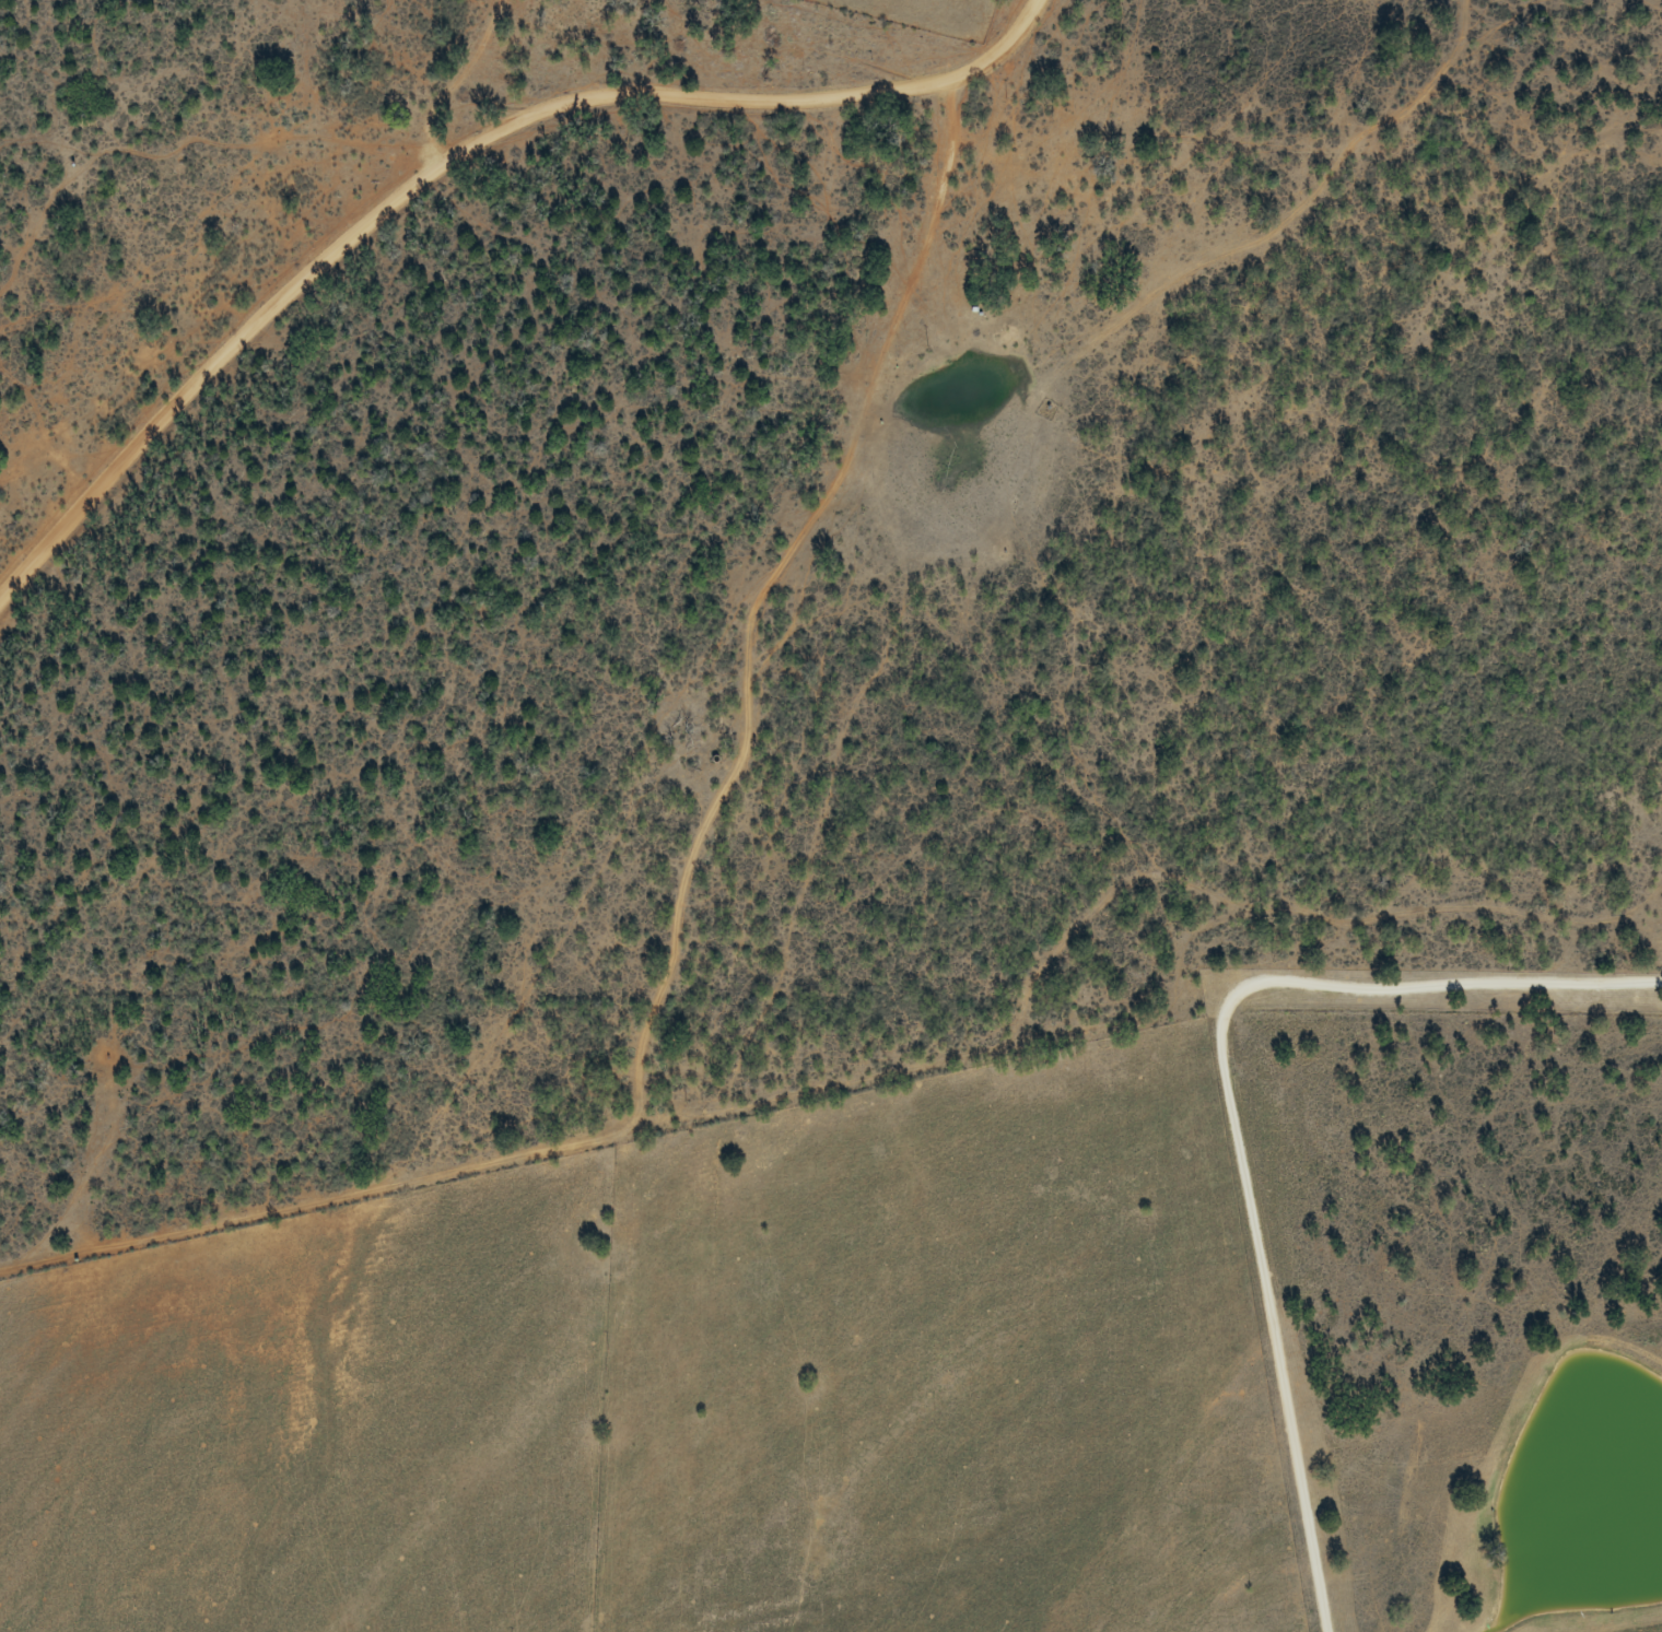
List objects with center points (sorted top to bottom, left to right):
road: (426, 220)
road: (905, 359)

